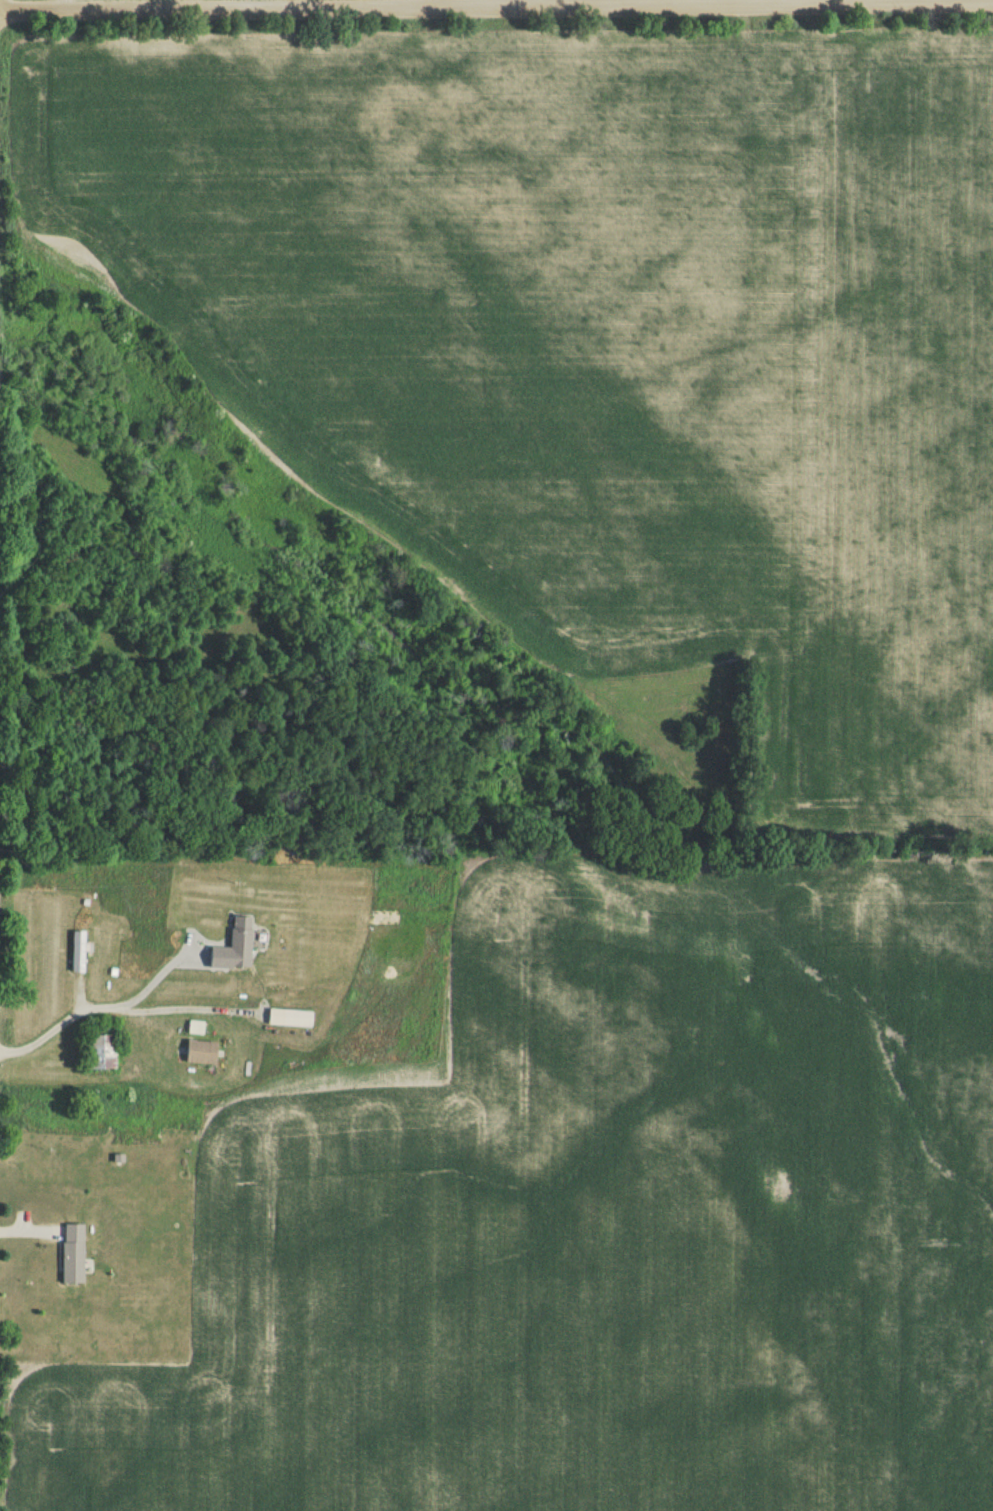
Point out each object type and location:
road: (496, 6)
building: (233, 950)
building: (75, 955)
road: (163, 974)
road: (119, 1016)
building: (294, 1022)
building: (97, 1054)
building: (199, 1056)
building: (71, 1258)

